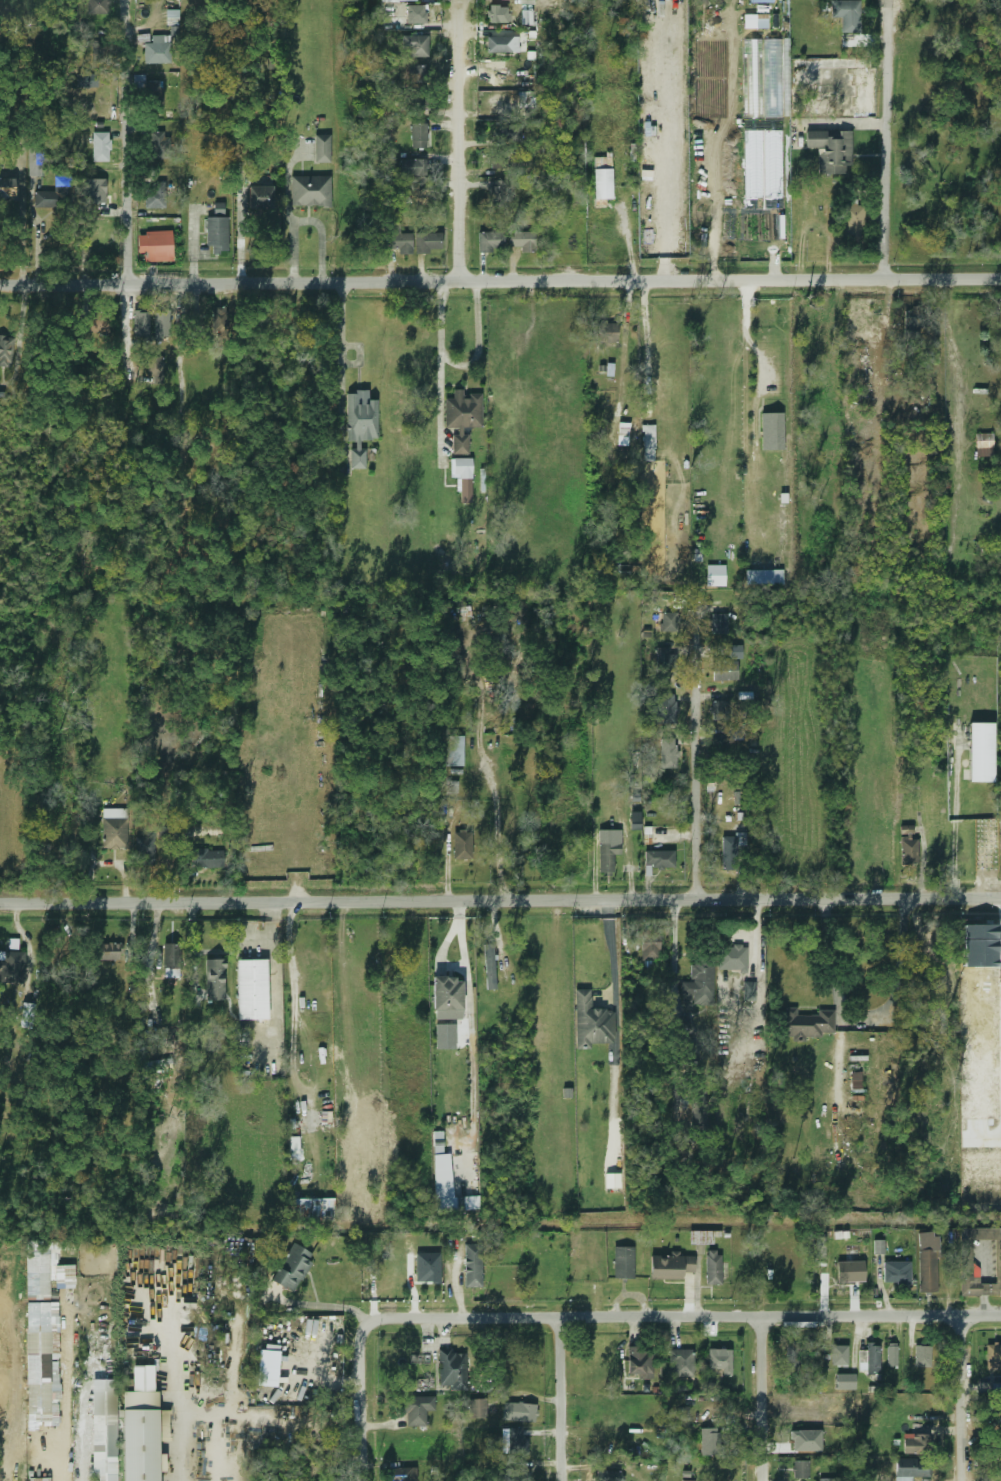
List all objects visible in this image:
building: (97, 7)
building: (497, 14)
building: (847, 14)
building: (405, 15)
building: (173, 17)
building: (415, 45)
building: (501, 45)
building: (156, 53)
building: (416, 75)
building: (88, 78)
building: (151, 90)
building: (527, 99)
building: (411, 102)
building: (508, 133)
building: (418, 135)
road: (462, 140)
road: (889, 140)
building: (160, 144)
building: (100, 147)
building: (323, 148)
building: (830, 151)
building: (35, 160)
building: (409, 168)
building: (602, 179)
building: (7, 188)
building: (311, 191)
building: (53, 194)
building: (495, 194)
building: (100, 195)
building: (154, 195)
building: (418, 195)
building: (260, 198)
road: (715, 206)
road: (664, 211)
road: (306, 220)
building: (853, 220)
building: (216, 234)
building: (395, 239)
building: (521, 241)
road: (629, 241)
building: (428, 243)
building: (489, 243)
building: (159, 244)
road: (774, 262)
road: (130, 281)
road: (500, 281)
building: (913, 319)
building: (140, 325)
building: (160, 325)
building: (605, 333)
road: (646, 336)
road: (750, 336)
road: (341, 337)
road: (476, 339)
building: (5, 351)
building: (155, 366)
road: (440, 368)
building: (461, 417)
building: (359, 424)
building: (772, 431)
building: (623, 434)
building: (649, 443)
building: (984, 445)
building: (460, 465)
building: (716, 575)
building: (764, 577)
building: (669, 621)
building: (718, 623)
building: (736, 652)
building: (665, 663)
building: (724, 671)
building: (145, 692)
building: (660, 710)
building: (718, 711)
road: (698, 748)
building: (451, 751)
building: (981, 752)
building: (668, 753)
building: (54, 820)
building: (635, 821)
road: (955, 822)
building: (113, 833)
building: (990, 841)
building: (461, 846)
building: (906, 846)
building: (143, 851)
road: (448, 852)
building: (729, 855)
building: (606, 856)
building: (660, 859)
building: (206, 860)
road: (500, 900)
building: (14, 943)
building: (650, 945)
building: (106, 951)
building: (171, 956)
building: (731, 958)
building: (11, 966)
building: (488, 966)
building: (699, 978)
building: (214, 979)
road: (294, 988)
building: (252, 989)
building: (747, 990)
building: (29, 991)
building: (448, 998)
building: (27, 1015)
building: (592, 1022)
building: (803, 1023)
road: (861, 1023)
building: (686, 1026)
building: (856, 1080)
building: (337, 1121)
building: (294, 1148)
building: (612, 1182)
building: (449, 1185)
building: (312, 1210)
building: (702, 1237)
building: (821, 1247)
building: (879, 1247)
building: (966, 1261)
building: (927, 1262)
building: (623, 1263)
building: (472, 1265)
building: (291, 1267)
building: (428, 1267)
building: (669, 1267)
building: (712, 1268)
building: (849, 1271)
building: (896, 1272)
building: (37, 1285)
road: (321, 1305)
road: (690, 1318)
building: (35, 1338)
building: (993, 1354)
building: (840, 1356)
building: (894, 1356)
building: (920, 1356)
building: (791, 1357)
building: (869, 1359)
road: (250, 1360)
building: (721, 1361)
building: (639, 1362)
building: (682, 1364)
building: (451, 1370)
building: (845, 1381)
road: (364, 1396)
road: (964, 1398)
road: (765, 1399)
road: (562, 1400)
building: (476, 1409)
building: (415, 1410)
building: (521, 1413)
building: (104, 1431)
road: (182, 1438)
building: (136, 1441)
building: (514, 1441)
building: (807, 1441)
building: (709, 1442)
building: (915, 1445)
building: (801, 1469)
building: (911, 1469)
building: (400, 1474)
building: (511, 1474)
building: (607, 1476)
building: (827, 1479)

